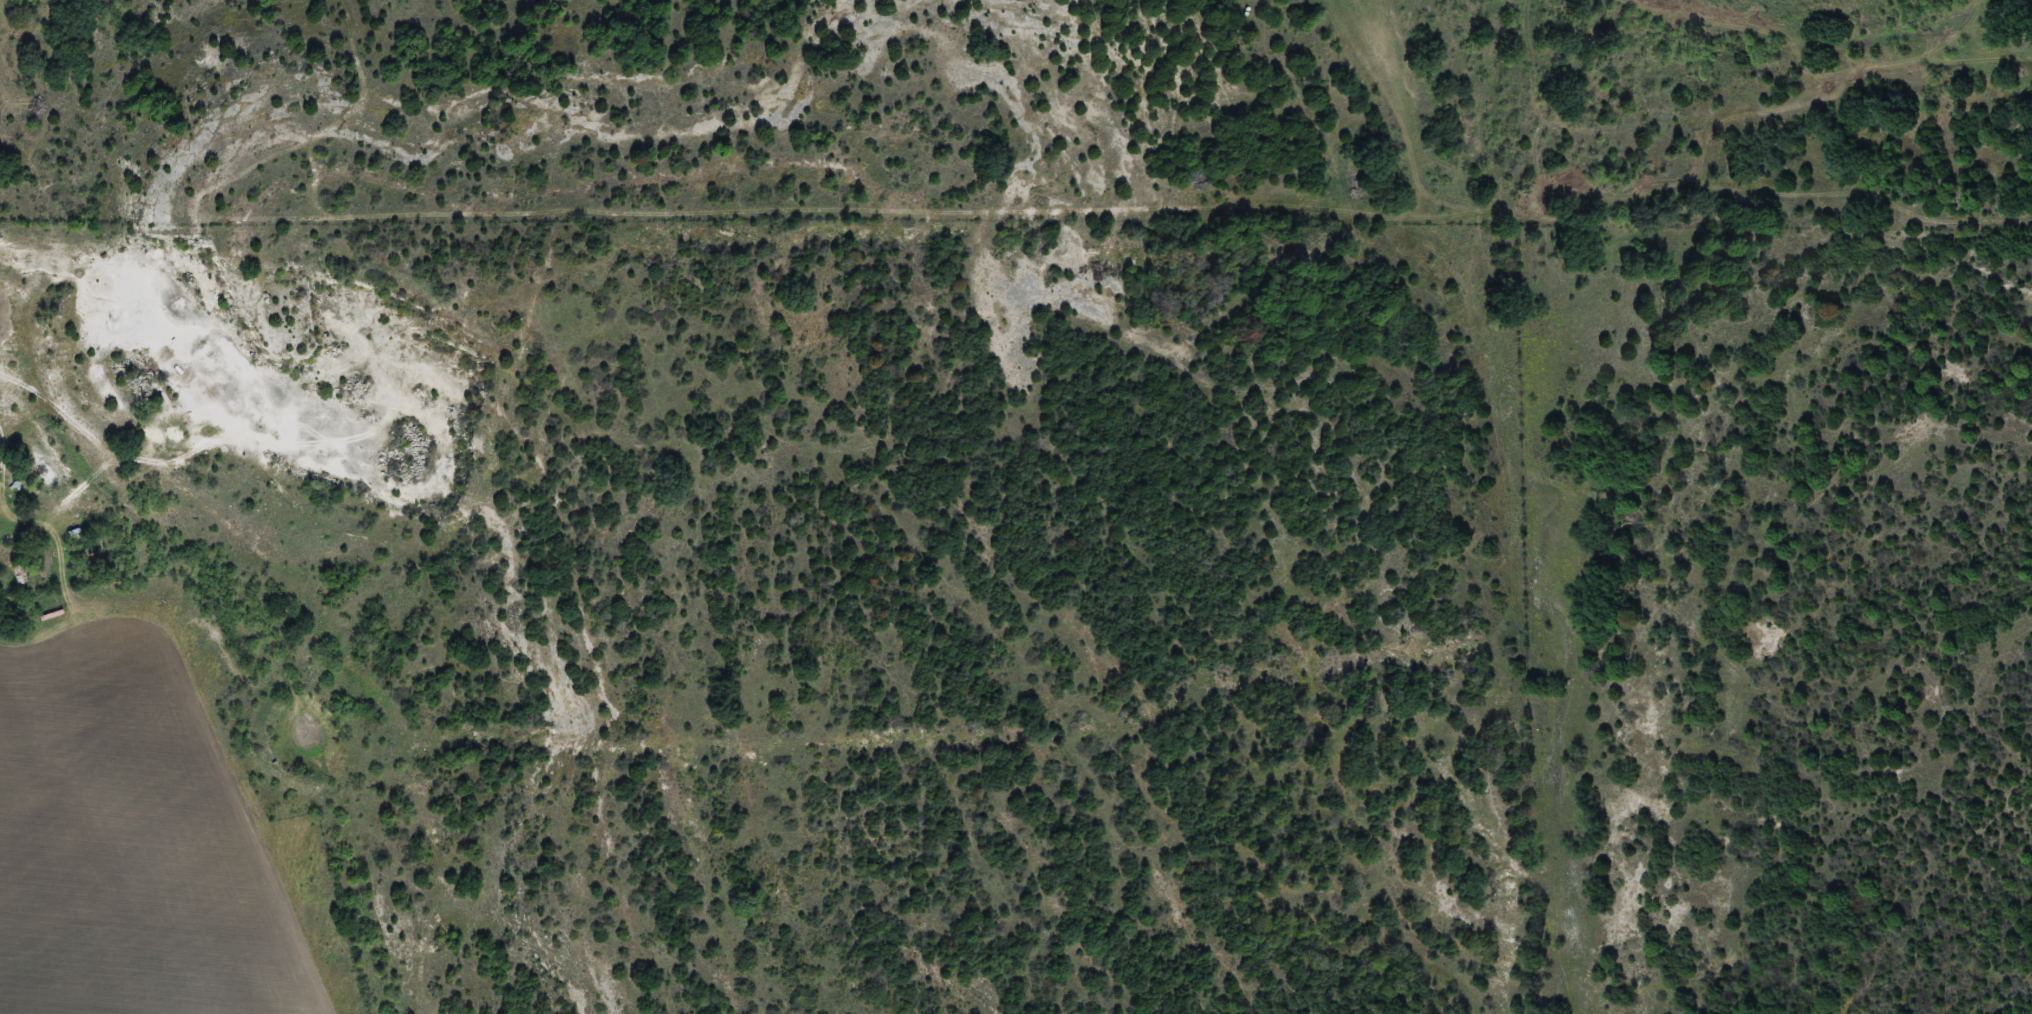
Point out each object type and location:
road: (2, 435)
building: (17, 573)

